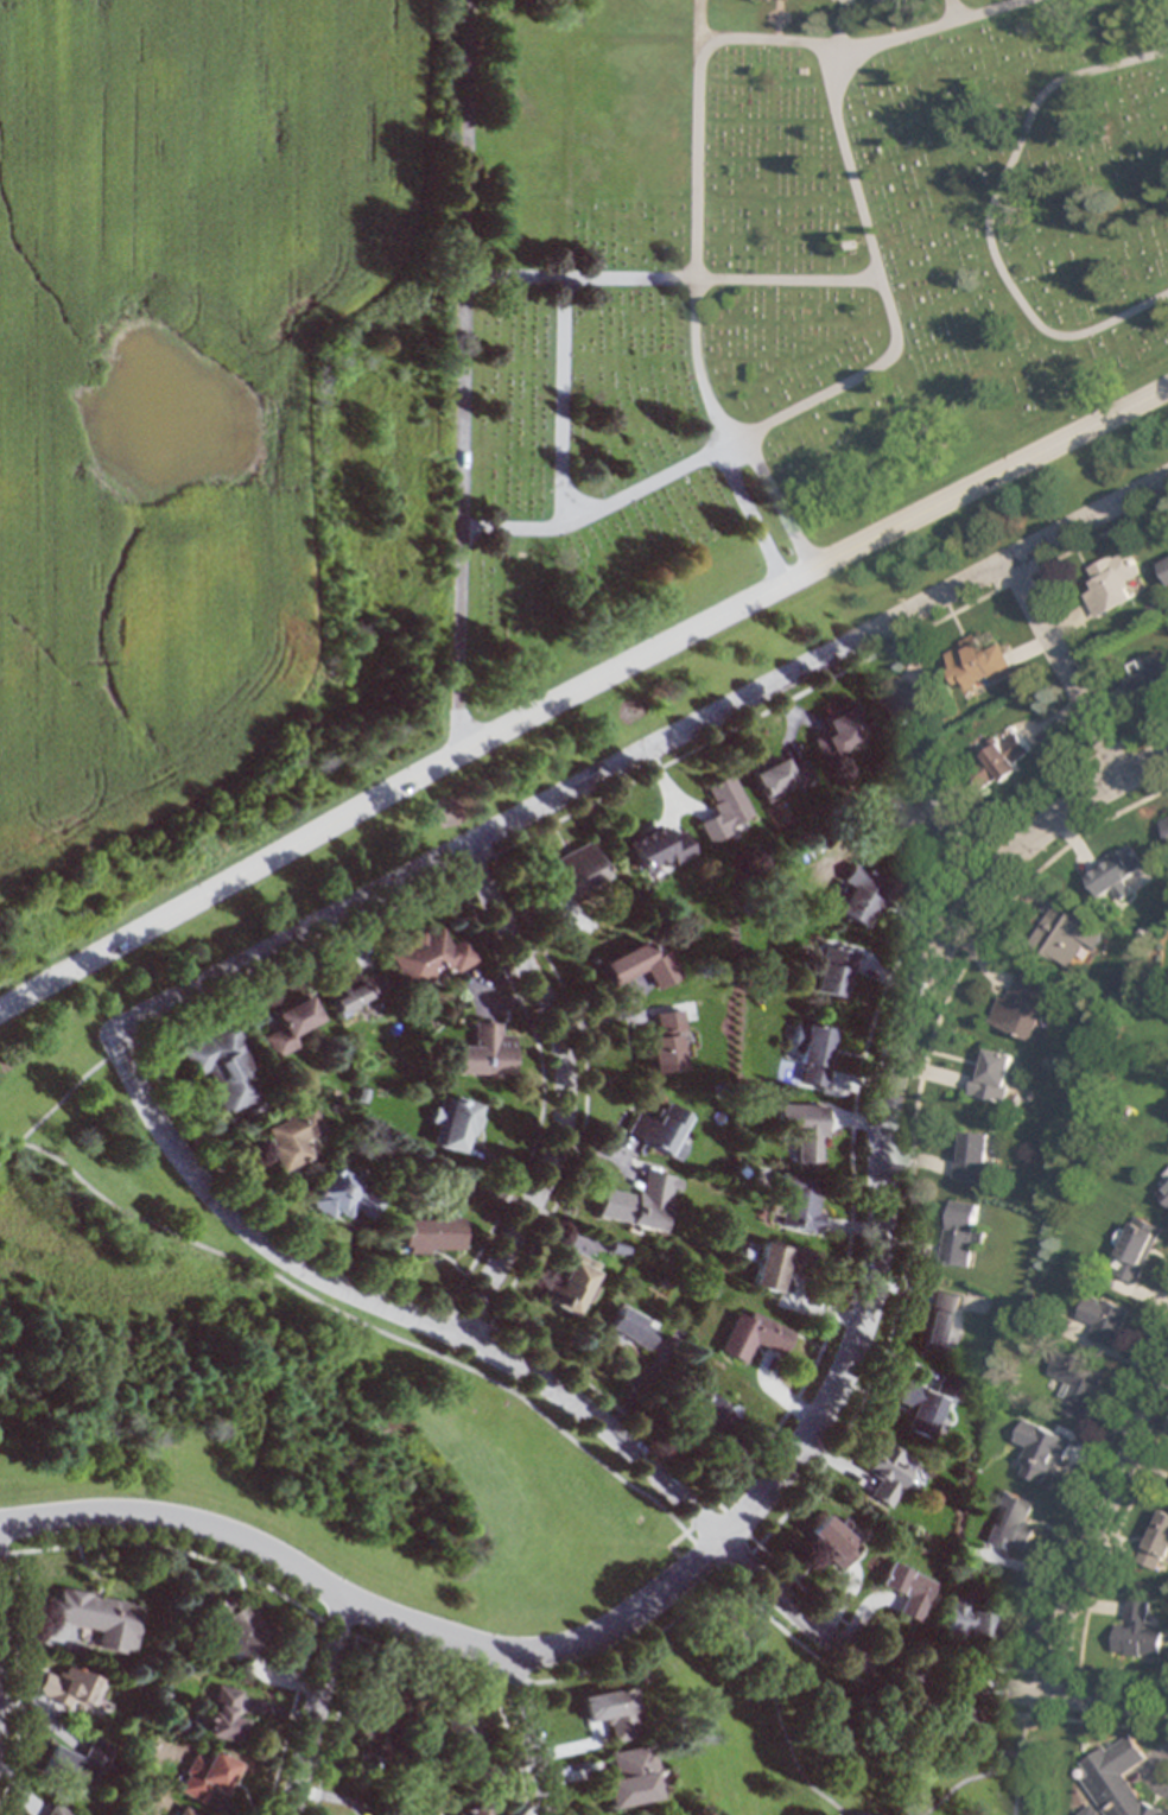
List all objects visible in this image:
building: (888, 0)
road: (706, 277)
park: (788, 285)
road: (697, 362)
park: (458, 363)
road: (563, 399)
crop: (208, 437)
road: (780, 502)
road: (753, 516)
building: (1166, 564)
building: (1112, 583)
building: (977, 664)
road: (1067, 668)
building: (1151, 680)
road: (579, 692)
building: (903, 702)
park: (639, 705)
building: (843, 731)
building: (1001, 761)
road: (608, 772)
building: (781, 776)
building: (725, 808)
building: (916, 824)
building: (1164, 826)
building: (658, 849)
building: (575, 872)
building: (1117, 872)
building: (862, 896)
building: (1067, 934)
building: (430, 958)
building: (642, 966)
building: (836, 970)
building: (354, 991)
building: (1022, 1009)
building: (290, 1023)
building: (665, 1042)
building: (483, 1052)
building: (814, 1052)
building: (223, 1067)
building: (994, 1074)
road: (567, 1092)
road: (65, 1093)
road: (888, 1110)
building: (459, 1122)
building: (805, 1128)
building: (660, 1130)
building: (294, 1137)
building: (973, 1155)
building: (1164, 1192)
building: (347, 1197)
building: (799, 1201)
building: (639, 1202)
building: (960, 1232)
building: (429, 1235)
building: (1137, 1250)
building: (773, 1264)
building: (570, 1282)
building: (1105, 1319)
building: (940, 1321)
building: (631, 1328)
building: (751, 1335)
building: (1077, 1384)
building: (928, 1403)
building: (711, 1419)
road: (580, 1446)
road: (635, 1451)
building: (1041, 1452)
park: (410, 1461)
building: (887, 1472)
building: (1014, 1524)
road: (1098, 1527)
building: (832, 1542)
road: (669, 1543)
building: (1157, 1543)
road: (262, 1547)
building: (908, 1588)
building: (99, 1618)
road: (627, 1618)
building: (977, 1620)
building: (236, 1625)
building: (1138, 1633)
road: (375, 1643)
building: (68, 1688)
road: (319, 1706)
building: (612, 1711)
building: (223, 1716)
building: (381, 1716)
road: (532, 1732)
building: (463, 1733)
road: (1022, 1743)
road: (1005, 1751)
building: (80, 1762)
building: (209, 1776)
building: (630, 1777)
building: (1118, 1778)
road: (829, 1798)
building: (59, 1810)
building: (385, 1810)
building: (474, 1810)
building: (186, 1811)
road: (840, 1811)
building: (26, 1814)
road: (923, 1814)

